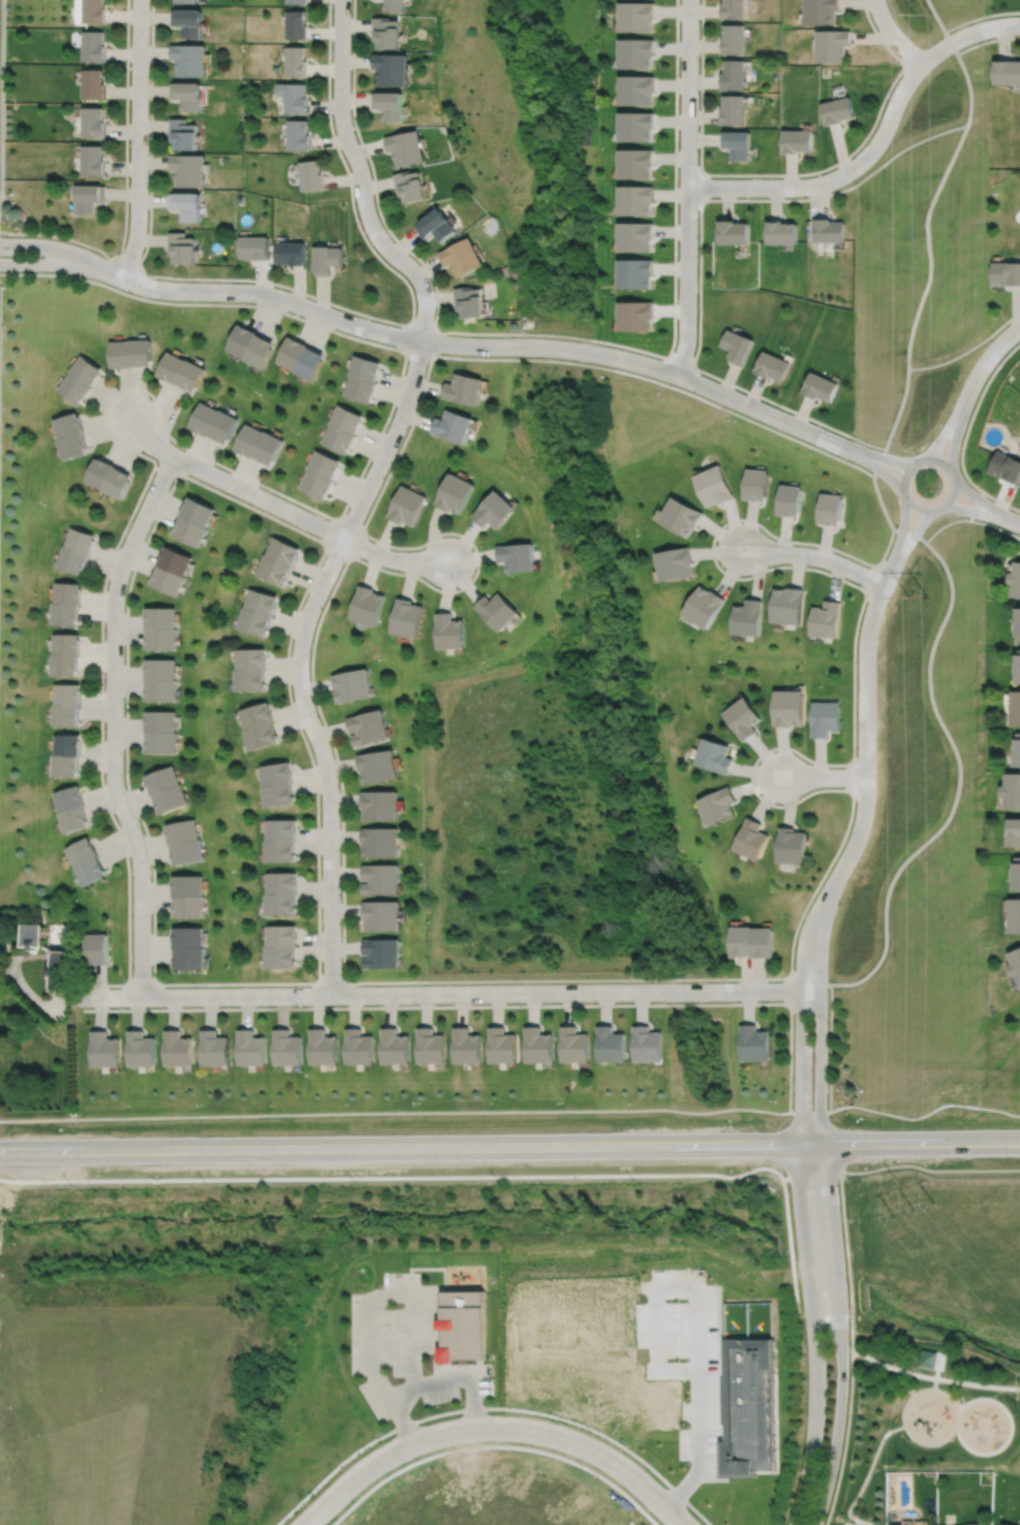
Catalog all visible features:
building: (188, 2)
building: (297, 2)
building: (394, 5)
street lamp: (331, 6)
building: (734, 9)
building: (823, 10)
building: (92, 12)
road: (980, 16)
building: (639, 17)
street lamp: (983, 19)
road: (939, 21)
building: (188, 23)
street lamp: (875, 25)
building: (296, 26)
building: (387, 33)
power tower: (934, 33)
road: (893, 35)
building: (734, 38)
road: (986, 41)
building: (834, 44)
building: (92, 47)
building: (639, 54)
building: (190, 61)
building: (295, 63)
street lamp: (129, 69)
building: (392, 69)
building: (1007, 70)
building: (734, 74)
building: (92, 85)
building: (638, 90)
street lamp: (699, 92)
building: (187, 97)
building: (295, 100)
road: (1, 104)
building: (390, 105)
building: (734, 109)
building: (838, 109)
street lamp: (331, 117)
building: (92, 124)
building: (638, 127)
building: (184, 136)
building: (298, 136)
road: (137, 140)
building: (798, 140)
building: (738, 143)
road: (876, 144)
building: (407, 149)
building: (94, 162)
building: (638, 164)
building: (191, 171)
road: (783, 174)
building: (313, 176)
road: (374, 177)
street lamp: (762, 177)
street lamp: (128, 178)
road: (362, 178)
street lamp: (853, 179)
building: (411, 187)
road: (700, 187)
road: (687, 188)
road: (125, 191)
building: (89, 199)
building: (637, 201)
road: (932, 202)
building: (189, 206)
street lamp: (697, 209)
street lamp: (358, 220)
building: (436, 227)
building: (828, 228)
building: (732, 230)
building: (781, 230)
park: (925, 236)
building: (636, 237)
road: (699, 246)
building: (255, 249)
road: (64, 250)
building: (186, 250)
street lamp: (98, 252)
building: (292, 254)
road: (129, 257)
building: (463, 259)
building: (329, 261)
road: (61, 265)
street lamp: (16, 270)
building: (637, 273)
building: (1006, 273)
street lamp: (235, 281)
street lamp: (433, 290)
street lamp: (130, 292)
road: (674, 294)
road: (314, 296)
street lamp: (310, 297)
street lamp: (697, 297)
road: (204, 303)
building: (470, 304)
building: (637, 315)
street lamp: (400, 326)
street lamp: (512, 336)
building: (251, 344)
street lamp: (604, 344)
building: (737, 345)
road: (521, 346)
road: (968, 350)
building: (131, 352)
road: (430, 354)
building: (301, 356)
road: (680, 361)
building: (772, 364)
building: (182, 369)
street lamp: (703, 374)
building: (364, 377)
building: (80, 378)
building: (820, 385)
building: (463, 387)
street lamp: (116, 388)
road: (969, 388)
street lamp: (779, 408)
building: (214, 421)
building: (452, 425)
street lamp: (408, 426)
building: (343, 428)
building: (70, 434)
road: (965, 434)
road: (149, 439)
street lamp: (962, 439)
building: (259, 443)
road: (882, 456)
street lamp: (851, 461)
building: (1005, 466)
street lamp: (366, 468)
road: (151, 471)
road: (165, 472)
building: (322, 473)
street lamp: (188, 474)
road: (950, 474)
building: (109, 477)
building: (757, 486)
building: (714, 487)
street lamp: (265, 489)
building: (453, 492)
road: (258, 497)
building: (791, 501)
building: (405, 505)
road: (985, 508)
building: (493, 510)
building: (831, 510)
building: (682, 518)
road: (970, 519)
building: (195, 521)
street lamp: (741, 521)
street lamp: (990, 522)
street lamp: (127, 528)
road: (302, 532)
road: (360, 532)
street lamp: (368, 539)
building: (75, 550)
street lamp: (889, 550)
building: (516, 556)
road: (815, 556)
road: (395, 559)
building: (279, 561)
street lamp: (344, 561)
building: (675, 565)
street lamp: (811, 566)
building: (172, 570)
road: (872, 579)
building: (1015, 580)
power tower: (930, 583)
street lamp: (456, 586)
street lamp: (125, 594)
building: (65, 604)
building: (365, 606)
building: (789, 607)
building: (705, 608)
building: (496, 611)
building: (257, 612)
building: (405, 618)
building: (749, 620)
building: (828, 621)
building: (1018, 624)
building: (162, 628)
building: (448, 632)
street lamp: (290, 645)
building: (65, 655)
road: (299, 657)
street lamp: (857, 664)
building: (1018, 669)
building: (250, 670)
street lamp: (104, 680)
building: (161, 680)
building: (350, 686)
building: (65, 705)
building: (789, 708)
building: (1015, 708)
street lamp: (319, 718)
building: (826, 718)
building: (744, 719)
road: (113, 722)
building: (259, 727)
building: (366, 727)
building: (161, 732)
road: (866, 749)
building: (1018, 751)
street lamp: (856, 755)
building: (65, 756)
building: (716, 756)
street lamp: (123, 757)
building: (375, 766)
road: (959, 774)
road: (824, 776)
road: (852, 777)
building: (278, 785)
building: (166, 790)
building: (1012, 792)
street lamp: (779, 803)
building: (378, 806)
building: (719, 806)
building: (70, 810)
street lamp: (319, 814)
street lamp: (114, 818)
building: (1015, 834)
building: (754, 841)
building: (280, 842)
building: (185, 843)
building: (378, 843)
building: (793, 847)
park: (918, 847)
building: (85, 862)
building: (1017, 872)
building: (379, 880)
building: (281, 895)
building: (189, 897)
street lamp: (340, 897)
street lamp: (839, 901)
building: (1014, 914)
building: (379, 916)
street lamp: (151, 922)
building: (31, 934)
building: (742, 944)
building: (763, 944)
building: (96, 946)
building: (281, 948)
building: (189, 950)
building: (380, 954)
building: (1015, 961)
road: (13, 964)
building: (59, 968)
street lamp: (793, 969)
road: (389, 981)
street lamp: (723, 981)
road: (332, 982)
street lamp: (631, 982)
street lamp: (522, 983)
road: (141, 984)
street lamp: (423, 984)
street lamp: (308, 985)
street lamp: (196, 986)
road: (820, 986)
road: (790, 990)
road: (445, 993)
road: (34, 998)
road: (490, 1005)
street lamp: (124, 1007)
street lamp: (828, 1023)
building: (754, 1042)
building: (647, 1043)
building: (538, 1044)
building: (574, 1044)
building: (610, 1044)
building: (359, 1045)
building: (395, 1045)
building: (431, 1045)
building: (467, 1045)
building: (503, 1045)
building: (323, 1046)
building: (178, 1047)
building: (215, 1047)
building: (252, 1047)
building: (287, 1047)
road: (830, 1047)
building: (105, 1048)
building: (141, 1048)
road: (800, 1065)
road: (820, 1065)
street lamp: (792, 1077)
road: (513, 1110)
road: (834, 1141)
road: (920, 1142)
road: (410, 1147)
road: (929, 1169)
power tower: (913, 1210)
road: (848, 1261)
road: (424, 1267)
road: (371, 1306)
road: (434, 1318)
building: (462, 1327)
road: (841, 1334)
road: (813, 1335)
parking lot: (401, 1348)
building: (929, 1359)
road: (937, 1365)
road: (455, 1368)
road: (934, 1377)
road: (452, 1379)
road: (697, 1404)
park: (918, 1413)
road: (437, 1414)
road: (902, 1425)
road: (493, 1426)
road: (1009, 1429)
road: (845, 1439)
road: (919, 1440)
road: (867, 1475)
parking lot: (857, 1522)
road: (864, 1523)
building: (895, 1523)
building: (1007, 1523)
building: (972, 1524)

